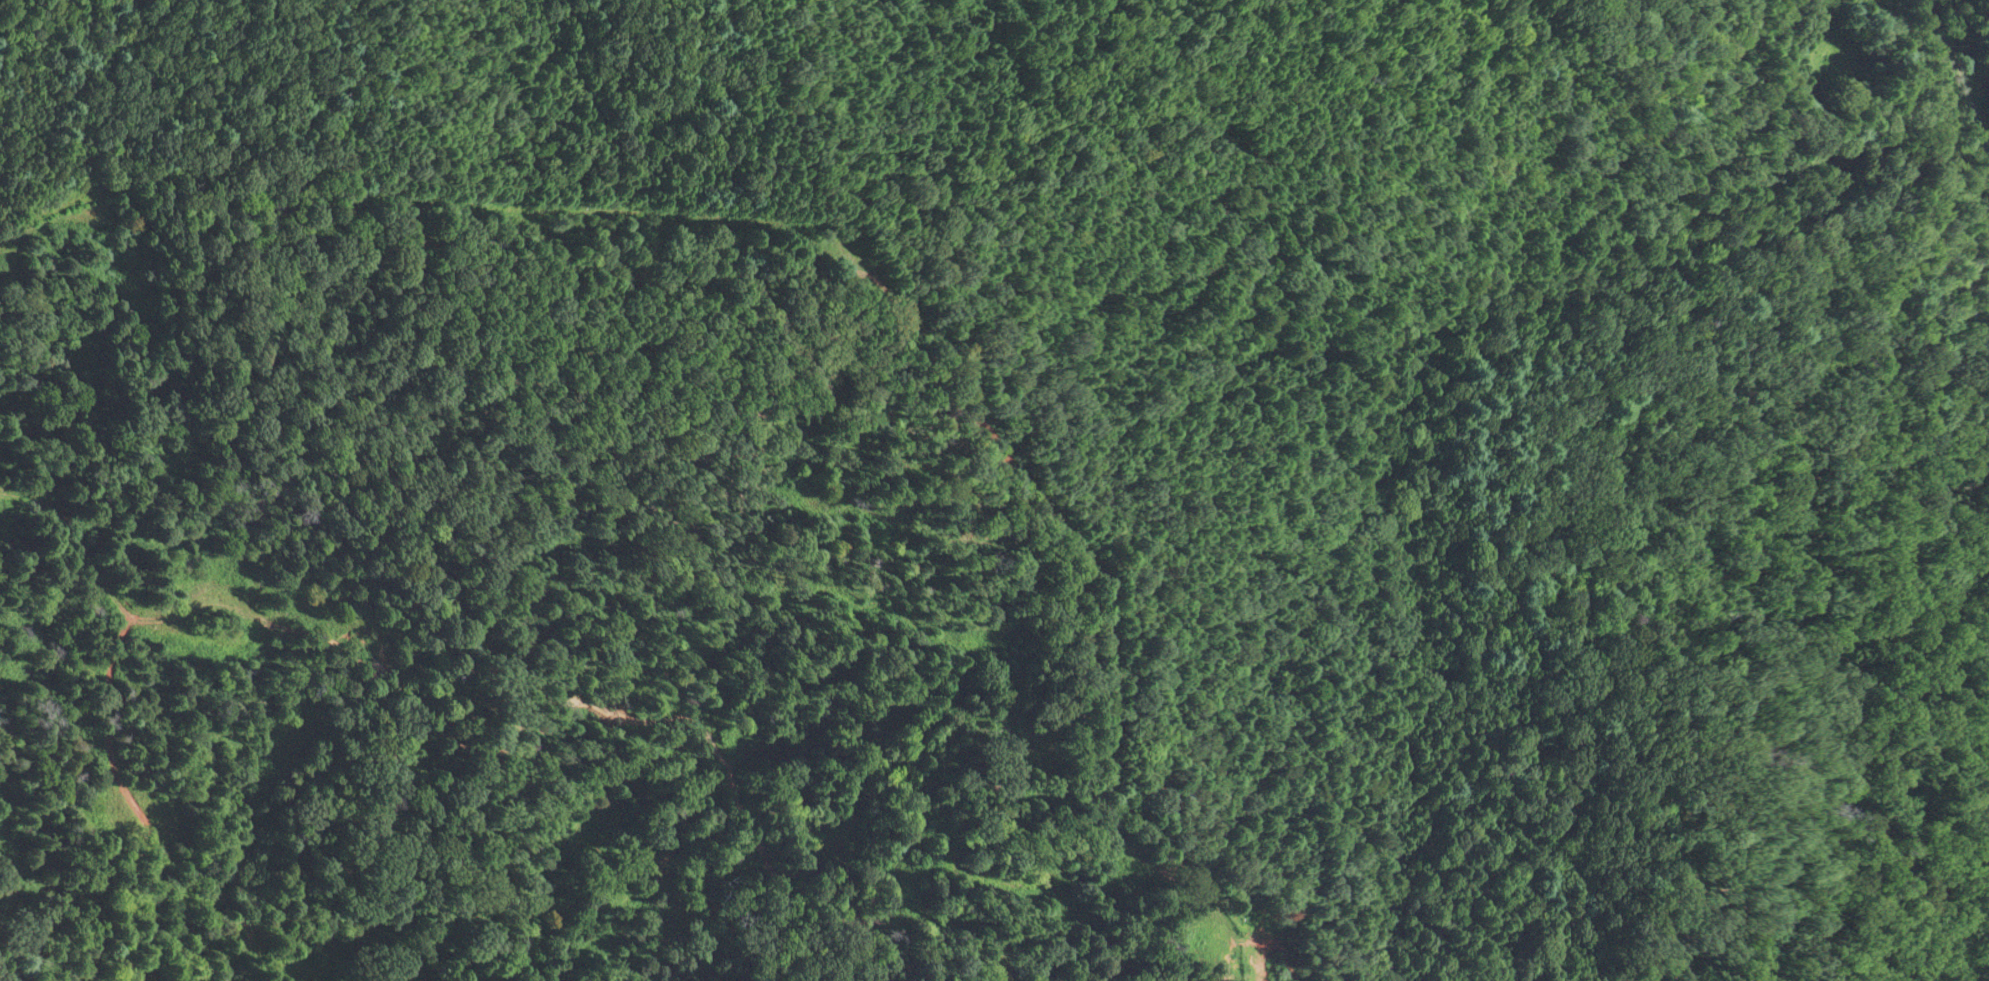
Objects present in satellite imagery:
building: (1795, 95)

